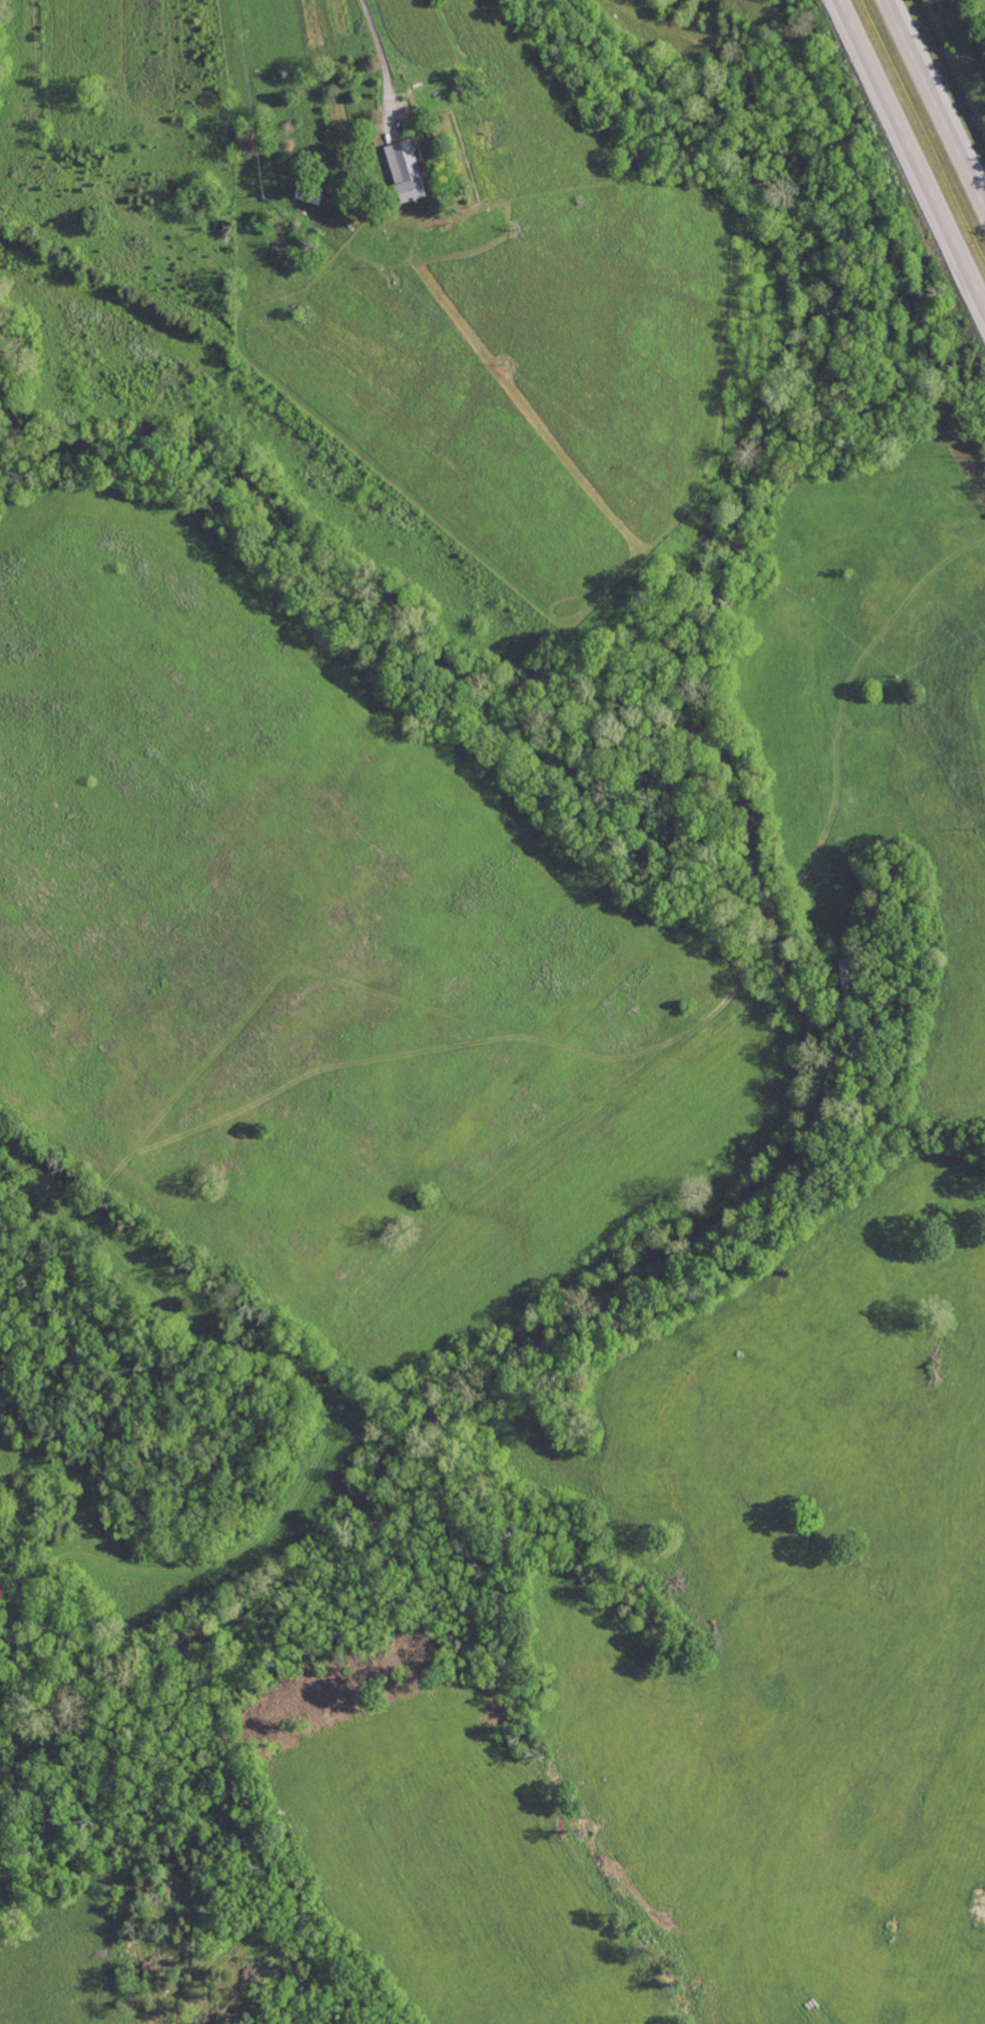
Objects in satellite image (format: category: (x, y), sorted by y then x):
road: (362, 46)
road: (937, 100)
road: (912, 152)
building: (406, 170)

